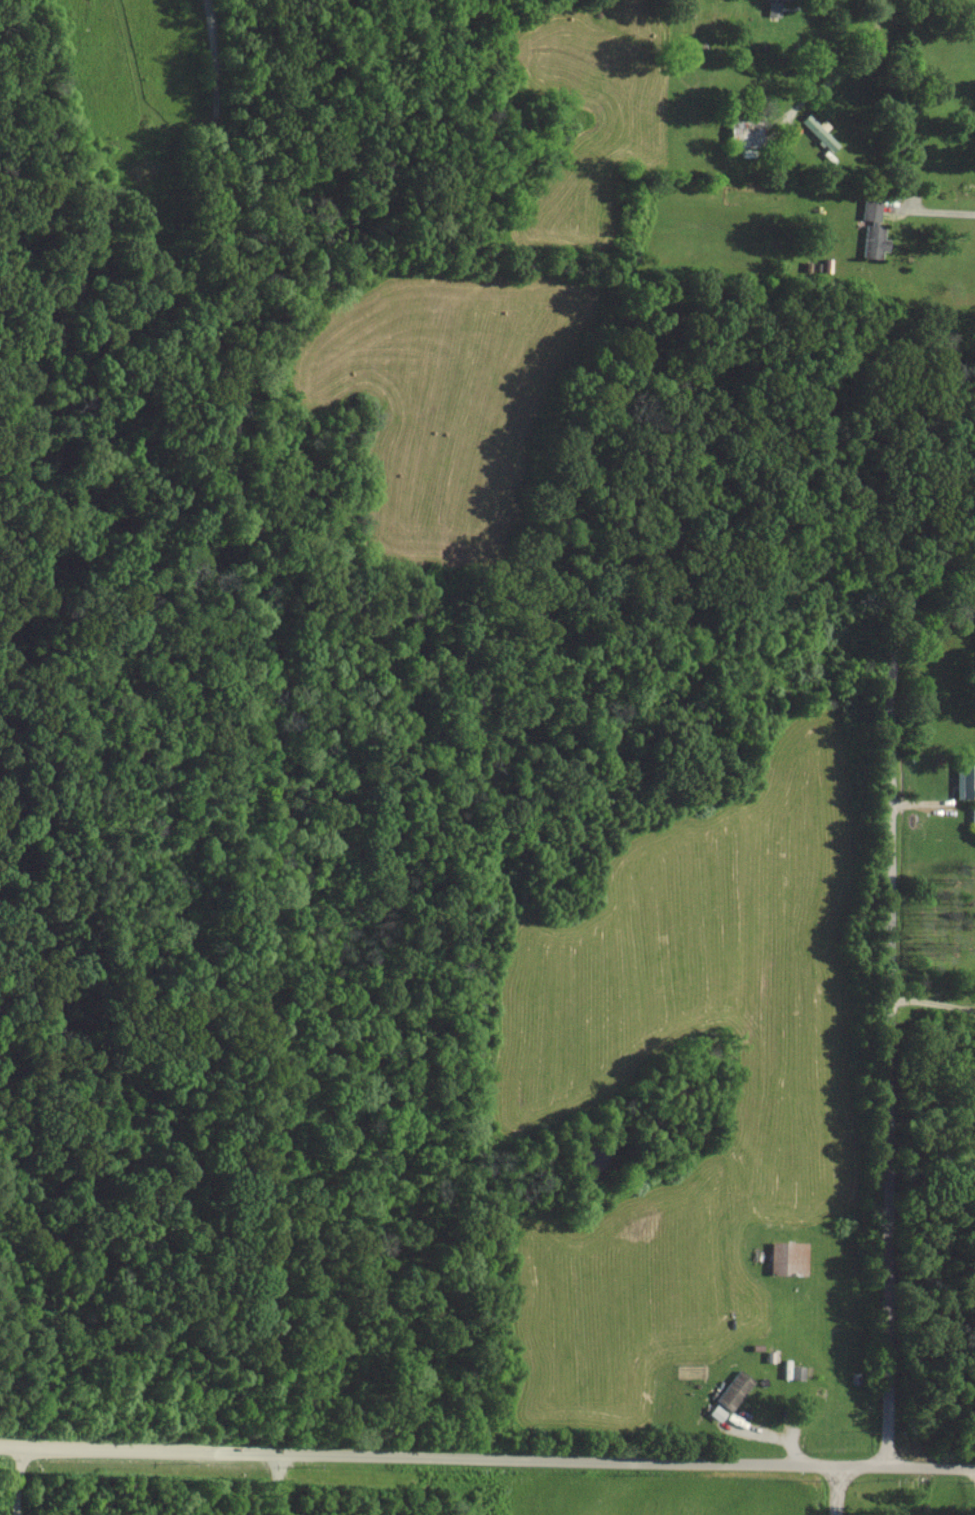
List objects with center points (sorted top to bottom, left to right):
building: (770, 7)
road: (850, 67)
building: (738, 131)
building: (818, 135)
road: (939, 210)
building: (870, 222)
building: (965, 775)
road: (932, 1001)
road: (887, 1005)
building: (785, 1258)
building: (795, 1372)
building: (730, 1390)
building: (713, 1412)
road: (487, 1459)
road: (17, 1481)
road: (280, 1483)

